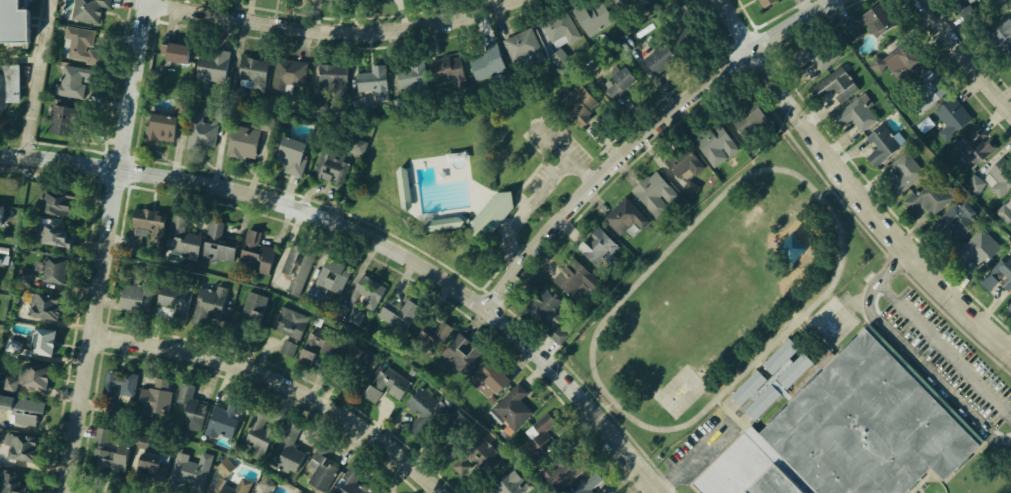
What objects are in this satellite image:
building: (329, 0)
building: (971, 1)
building: (623, 2)
building: (641, 2)
building: (762, 3)
building: (87, 9)
building: (589, 14)
building: (11, 20)
building: (863, 23)
building: (557, 29)
road: (335, 31)
building: (1003, 33)
building: (685, 36)
building: (80, 44)
building: (522, 48)
building: (172, 51)
building: (816, 53)
road: (967, 55)
building: (558, 57)
building: (654, 60)
building: (483, 62)
building: (875, 63)
building: (209, 64)
building: (1010, 66)
building: (251, 70)
building: (445, 70)
building: (287, 73)
building: (330, 75)
building: (410, 75)
road: (41, 78)
building: (70, 80)
building: (615, 80)
building: (8, 82)
building: (371, 82)
building: (834, 85)
building: (920, 91)
building: (577, 105)
building: (855, 113)
building: (950, 118)
building: (59, 119)
building: (926, 124)
building: (757, 125)
building: (157, 127)
building: (199, 132)
road: (643, 135)
parking lot: (551, 137)
building: (239, 143)
building: (880, 144)
building: (358, 146)
building: (716, 146)
building: (972, 146)
building: (287, 149)
road: (563, 151)
road: (544, 153)
road: (542, 157)
building: (681, 163)
building: (906, 172)
building: (331, 174)
building: (998, 176)
road: (528, 177)
parking lot: (538, 177)
park: (451, 182)
building: (974, 184)
building: (404, 186)
road: (854, 186)
building: (652, 189)
building: (688, 189)
road: (539, 194)
building: (928, 197)
road: (517, 198)
building: (53, 202)
road: (494, 205)
road: (511, 205)
park: (545, 207)
building: (1005, 210)
building: (1, 212)
building: (491, 214)
building: (623, 216)
building: (146, 218)
road: (505, 219)
building: (954, 221)
building: (447, 223)
road: (503, 228)
building: (50, 234)
building: (180, 235)
road: (375, 239)
building: (136, 241)
building: (216, 242)
road: (111, 246)
road: (411, 246)
road: (502, 246)
building: (594, 246)
building: (974, 247)
road: (510, 248)
building: (254, 252)
building: (3, 258)
road: (504, 264)
building: (297, 265)
building: (48, 269)
road: (492, 274)
building: (998, 274)
building: (24, 277)
building: (570, 278)
building: (328, 283)
road: (483, 290)
building: (366, 292)
road: (493, 298)
building: (132, 299)
building: (172, 299)
building: (208, 300)
building: (544, 305)
building: (1009, 305)
building: (42, 306)
building: (252, 308)
building: (396, 312)
building: (356, 317)
building: (288, 322)
building: (555, 334)
building: (39, 339)
building: (325, 342)
building: (432, 345)
building: (295, 352)
building: (462, 353)
road: (911, 353)
building: (355, 365)
building: (786, 365)
building: (29, 377)
building: (490, 379)
road: (284, 382)
building: (117, 383)
building: (385, 385)
building: (748, 387)
building: (153, 401)
building: (420, 401)
building: (763, 402)
building: (190, 407)
building: (510, 407)
building: (23, 409)
building: (222, 418)
building: (453, 429)
building: (257, 430)
building: (849, 433)
building: (537, 440)
building: (143, 442)
building: (21, 448)
building: (482, 455)
building: (108, 457)
building: (286, 458)
road: (696, 458)
building: (145, 462)
building: (570, 463)
building: (160, 467)
building: (227, 467)
building: (190, 471)
building: (321, 476)
building: (12, 482)
building: (345, 483)
building: (508, 483)
building: (584, 484)
building: (267, 485)
building: (241, 486)

